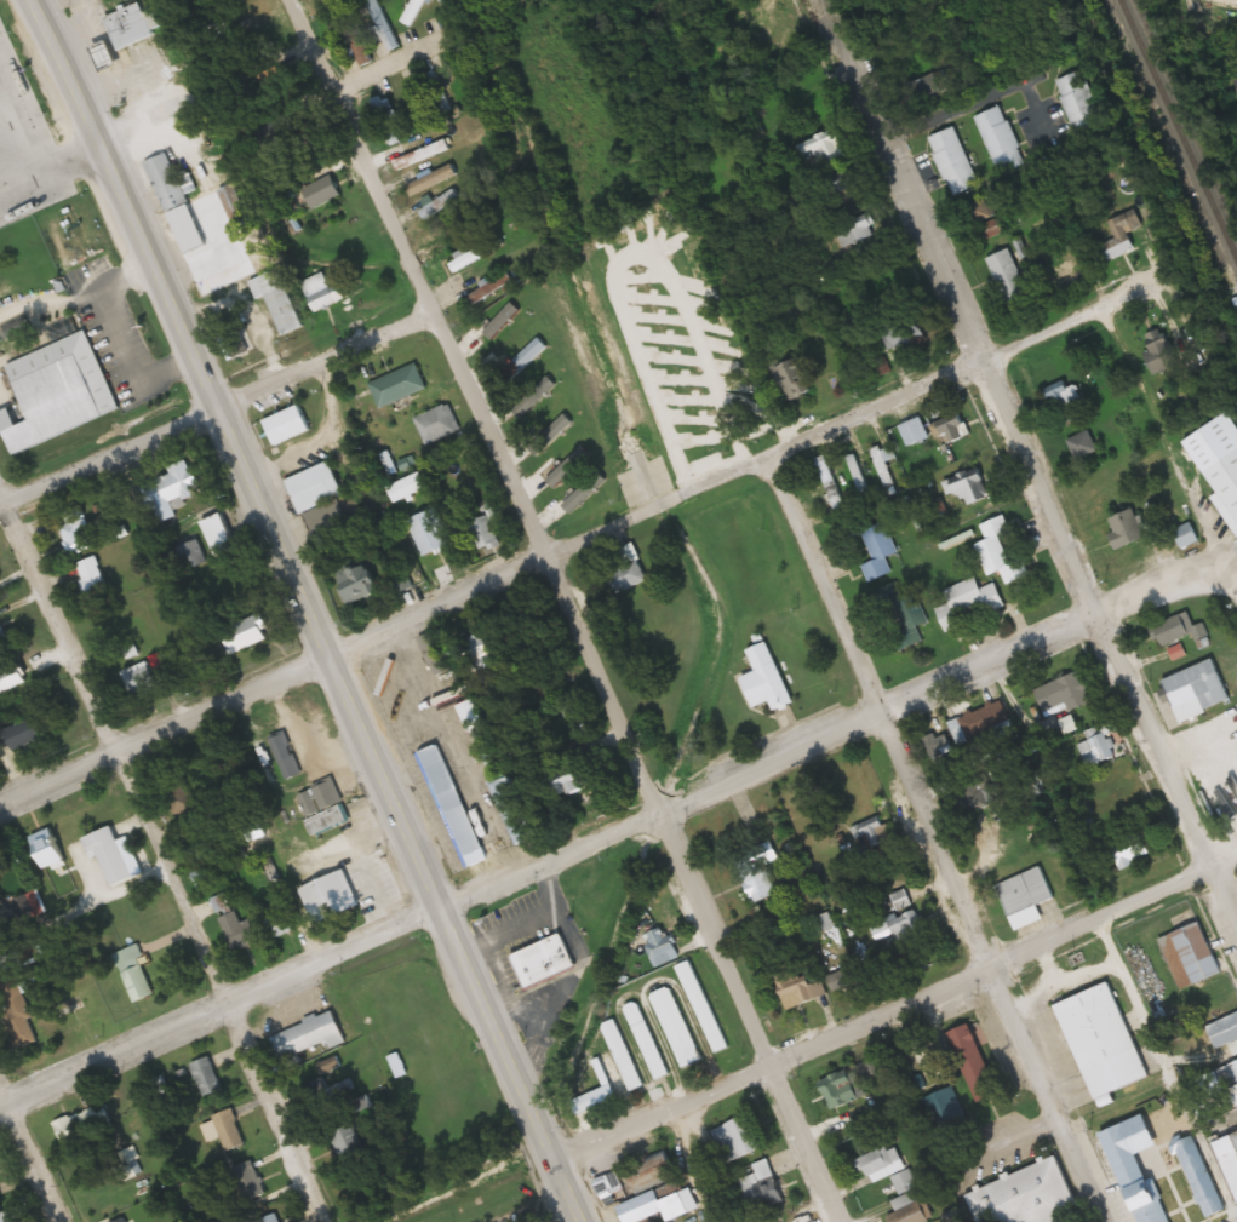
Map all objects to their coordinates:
building: (412, 11)
building: (380, 24)
building: (131, 25)
building: (351, 34)
road: (388, 63)
building: (271, 82)
building: (1235, 82)
building: (437, 93)
building: (13, 96)
building: (1077, 105)
building: (412, 109)
building: (162, 113)
building: (384, 121)
railway: (1178, 132)
building: (293, 140)
building: (998, 140)
building: (821, 150)
building: (417, 154)
building: (952, 163)
road: (53, 176)
building: (431, 180)
building: (322, 191)
building: (176, 203)
building: (230, 206)
building: (979, 212)
building: (858, 233)
building: (1119, 235)
building: (473, 256)
building: (1008, 276)
building: (322, 299)
building: (280, 302)
building: (505, 317)
building: (234, 344)
building: (1159, 350)
road: (325, 357)
building: (790, 380)
building: (395, 386)
building: (57, 391)
building: (1065, 398)
building: (521, 407)
building: (676, 409)
building: (549, 421)
building: (286, 425)
building: (434, 425)
building: (950, 430)
building: (916, 432)
building: (1083, 446)
building: (700, 447)
road: (110, 452)
road: (1172, 452)
building: (562, 455)
building: (881, 467)
building: (1226, 480)
building: (829, 483)
building: (314, 487)
building: (407, 487)
building: (970, 487)
building: (177, 489)
road: (1030, 490)
building: (938, 509)
building: (1127, 529)
building: (75, 532)
building: (486, 532)
building: (217, 533)
building: (429, 533)
building: (1187, 535)
building: (874, 546)
building: (1001, 552)
building: (193, 556)
road: (554, 557)
building: (91, 576)
building: (624, 578)
building: (360, 584)
building: (968, 602)
road: (311, 608)
road: (560, 610)
building: (903, 615)
building: (1176, 629)
building: (247, 633)
building: (477, 648)
building: (12, 678)
building: (141, 679)
building: (764, 679)
building: (1198, 690)
building: (1067, 694)
building: (984, 723)
building: (481, 734)
building: (1096, 751)
building: (286, 757)
building: (571, 779)
building: (323, 807)
building: (457, 807)
building: (515, 810)
road: (612, 837)
road: (938, 842)
road: (166, 848)
building: (1132, 850)
building: (353, 871)
building: (760, 888)
building: (1026, 891)
building: (904, 902)
building: (317, 905)
building: (275, 919)
building: (907, 928)
building: (236, 931)
building: (662, 945)
building: (1190, 956)
building: (544, 960)
building: (136, 976)
building: (800, 987)
building: (701, 1006)
building: (16, 1010)
road: (900, 1021)
building: (676, 1027)
building: (1224, 1032)
building: (307, 1037)
building: (646, 1042)
building: (1101, 1044)
building: (622, 1056)
building: (975, 1063)
building: (205, 1077)
building: (599, 1078)
building: (843, 1089)
building: (330, 1091)
building: (1214, 1096)
building: (945, 1112)
building: (81, 1124)
building: (228, 1130)
building: (738, 1140)
building: (1168, 1141)
road: (32, 1151)
building: (1230, 1155)
building: (882, 1163)
building: (653, 1170)
building: (1134, 1177)
building: (248, 1182)
building: (609, 1183)
building: (763, 1188)
building: (1029, 1197)
building: (910, 1198)
building: (1209, 1200)
building: (654, 1207)
building: (5, 1217)
building: (264, 1221)

